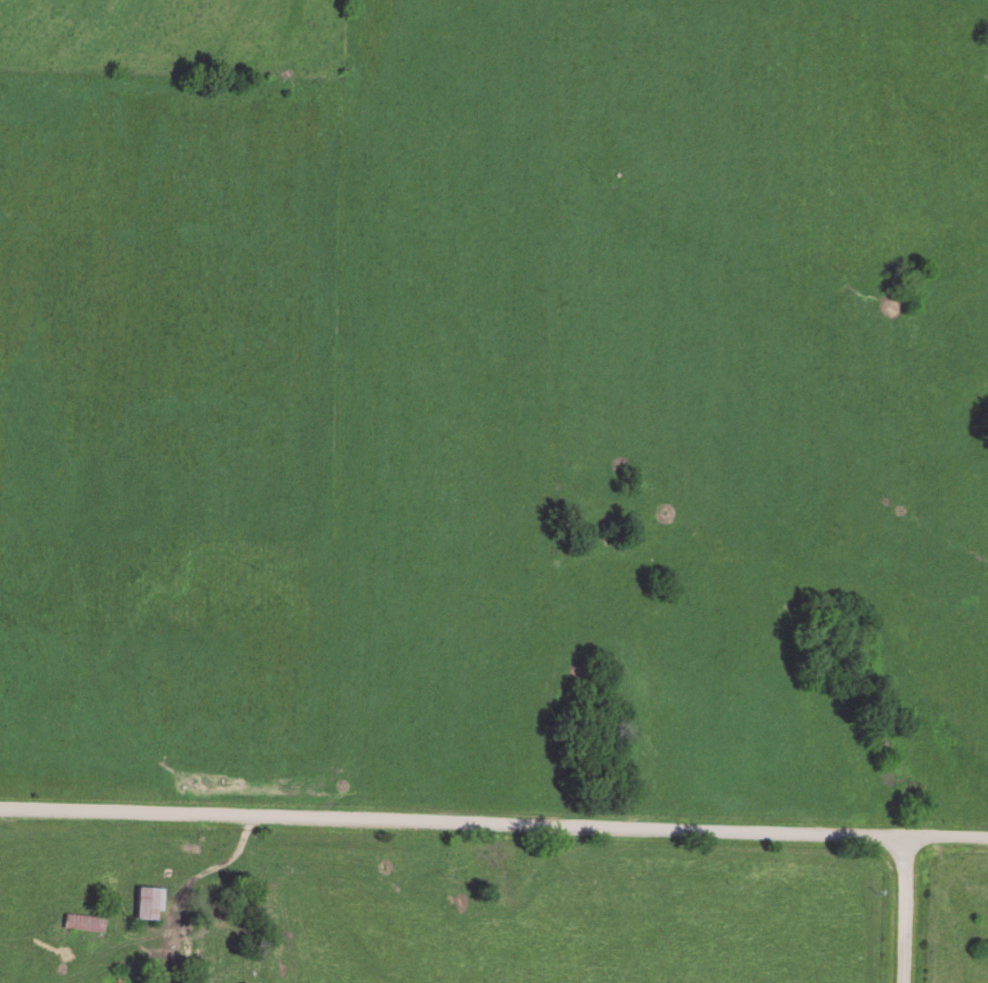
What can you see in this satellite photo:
road: (494, 825)
building: (147, 904)
road: (902, 909)
building: (83, 923)

